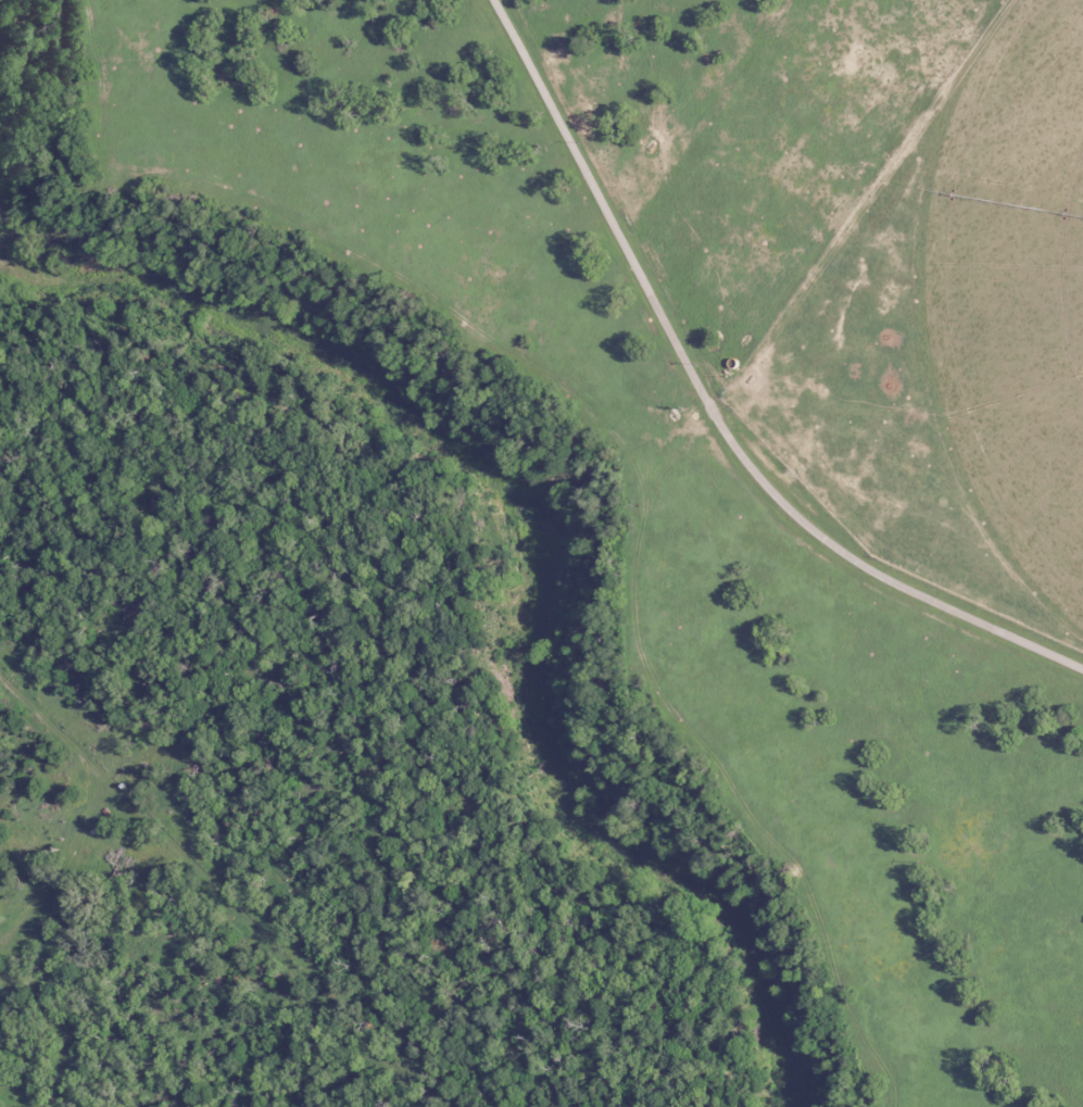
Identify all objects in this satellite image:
road: (860, 202)
road: (722, 437)
river: (547, 540)

